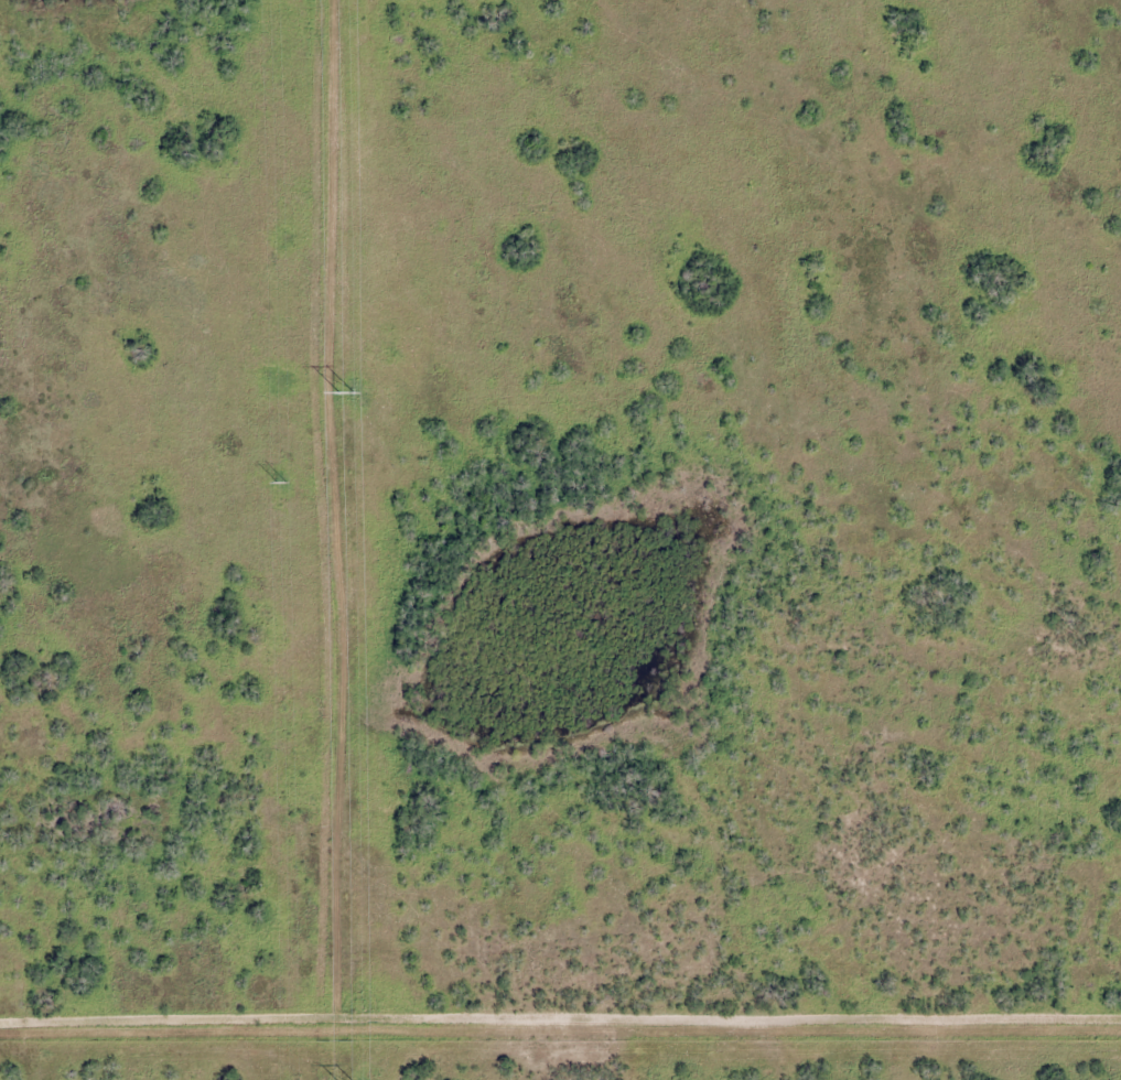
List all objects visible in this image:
power tower: (346, 393)
power tower: (281, 483)

